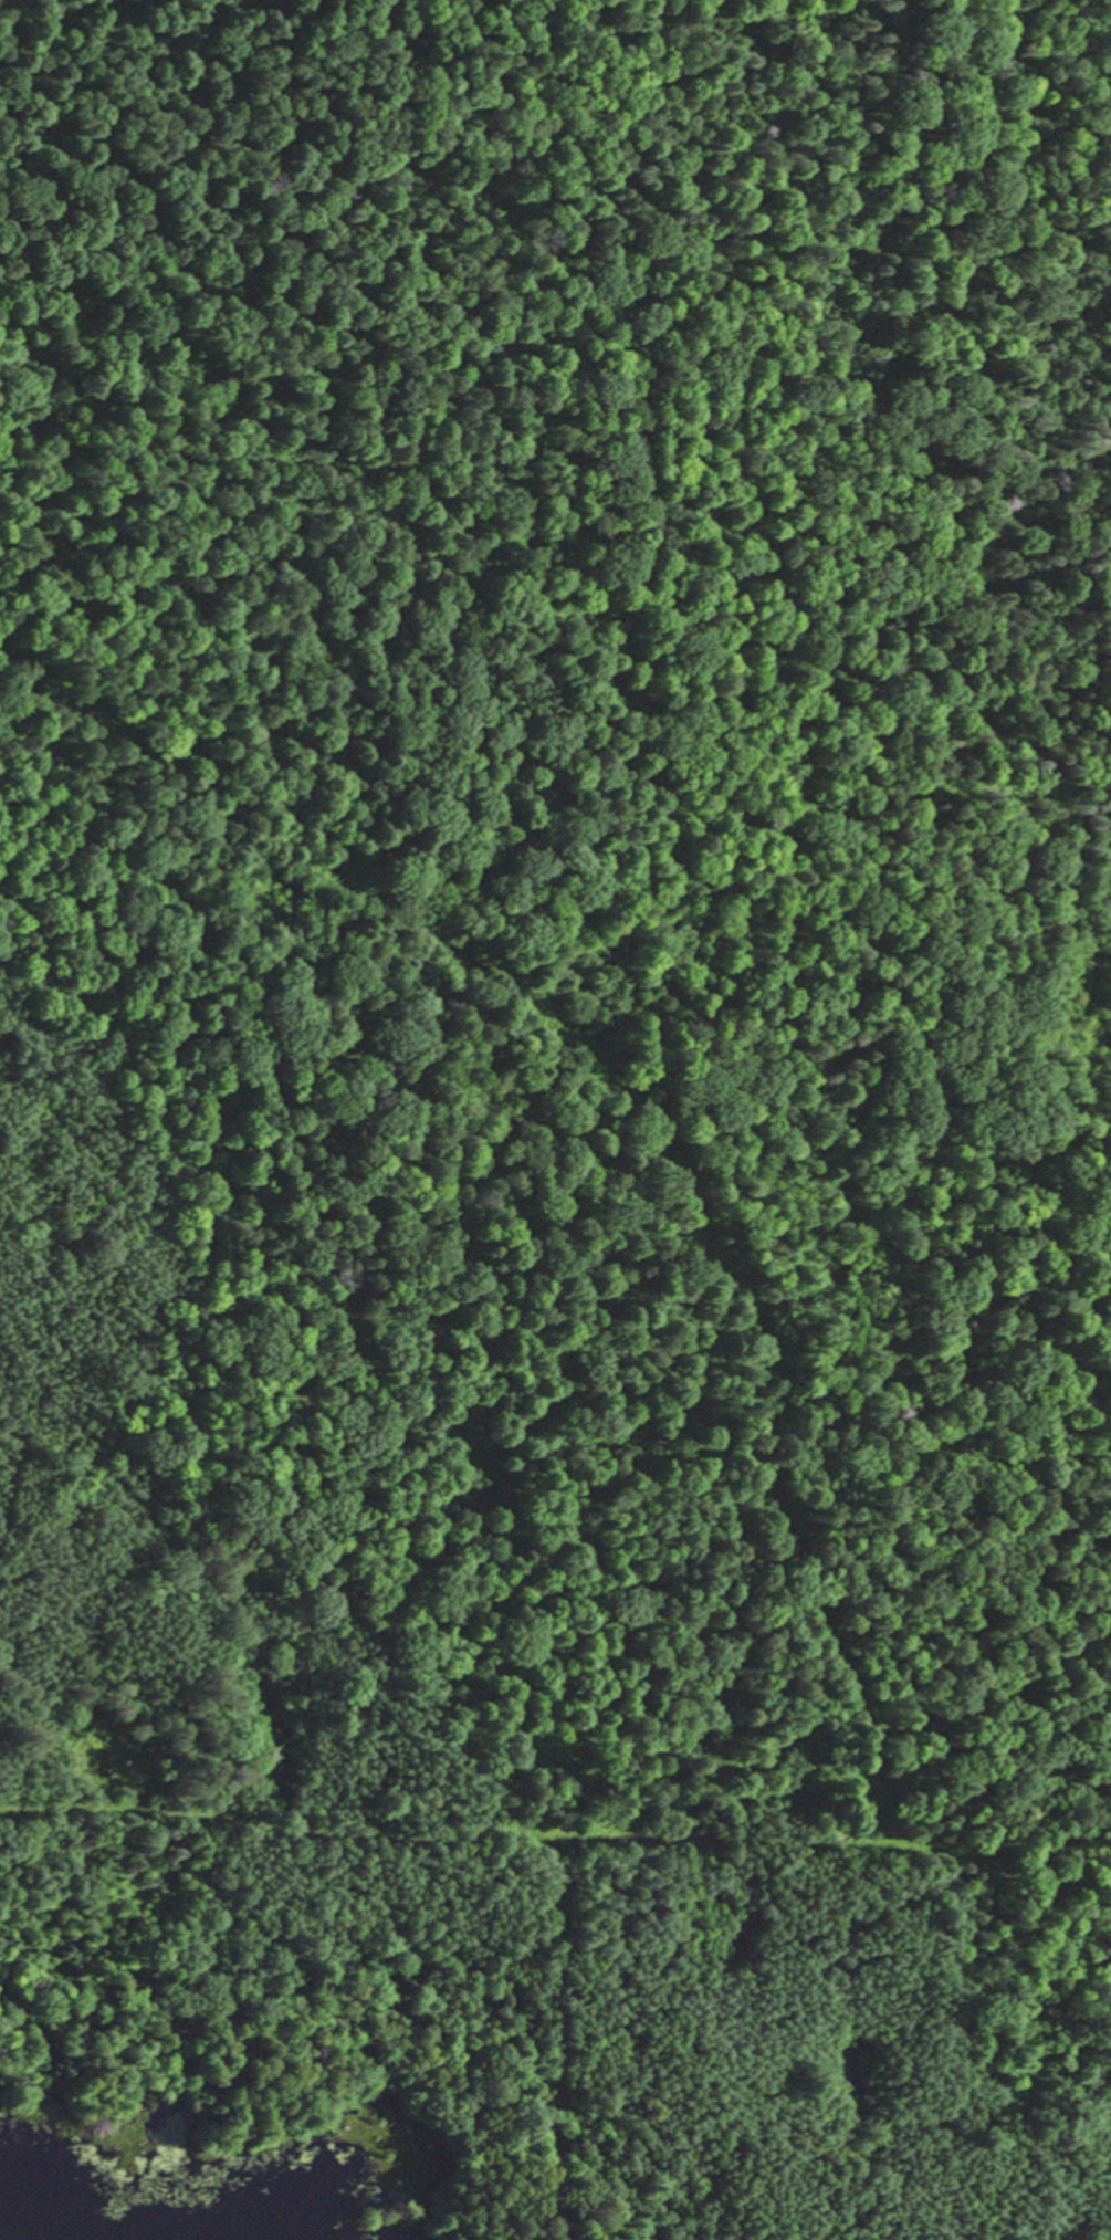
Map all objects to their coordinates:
road: (555, 1831)

